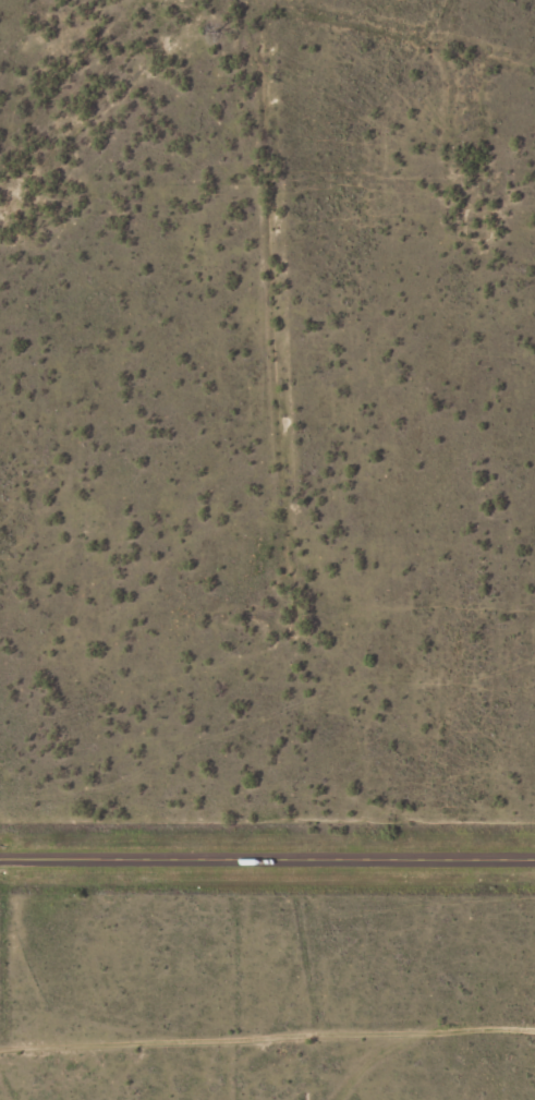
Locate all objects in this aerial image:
road: (267, 862)

